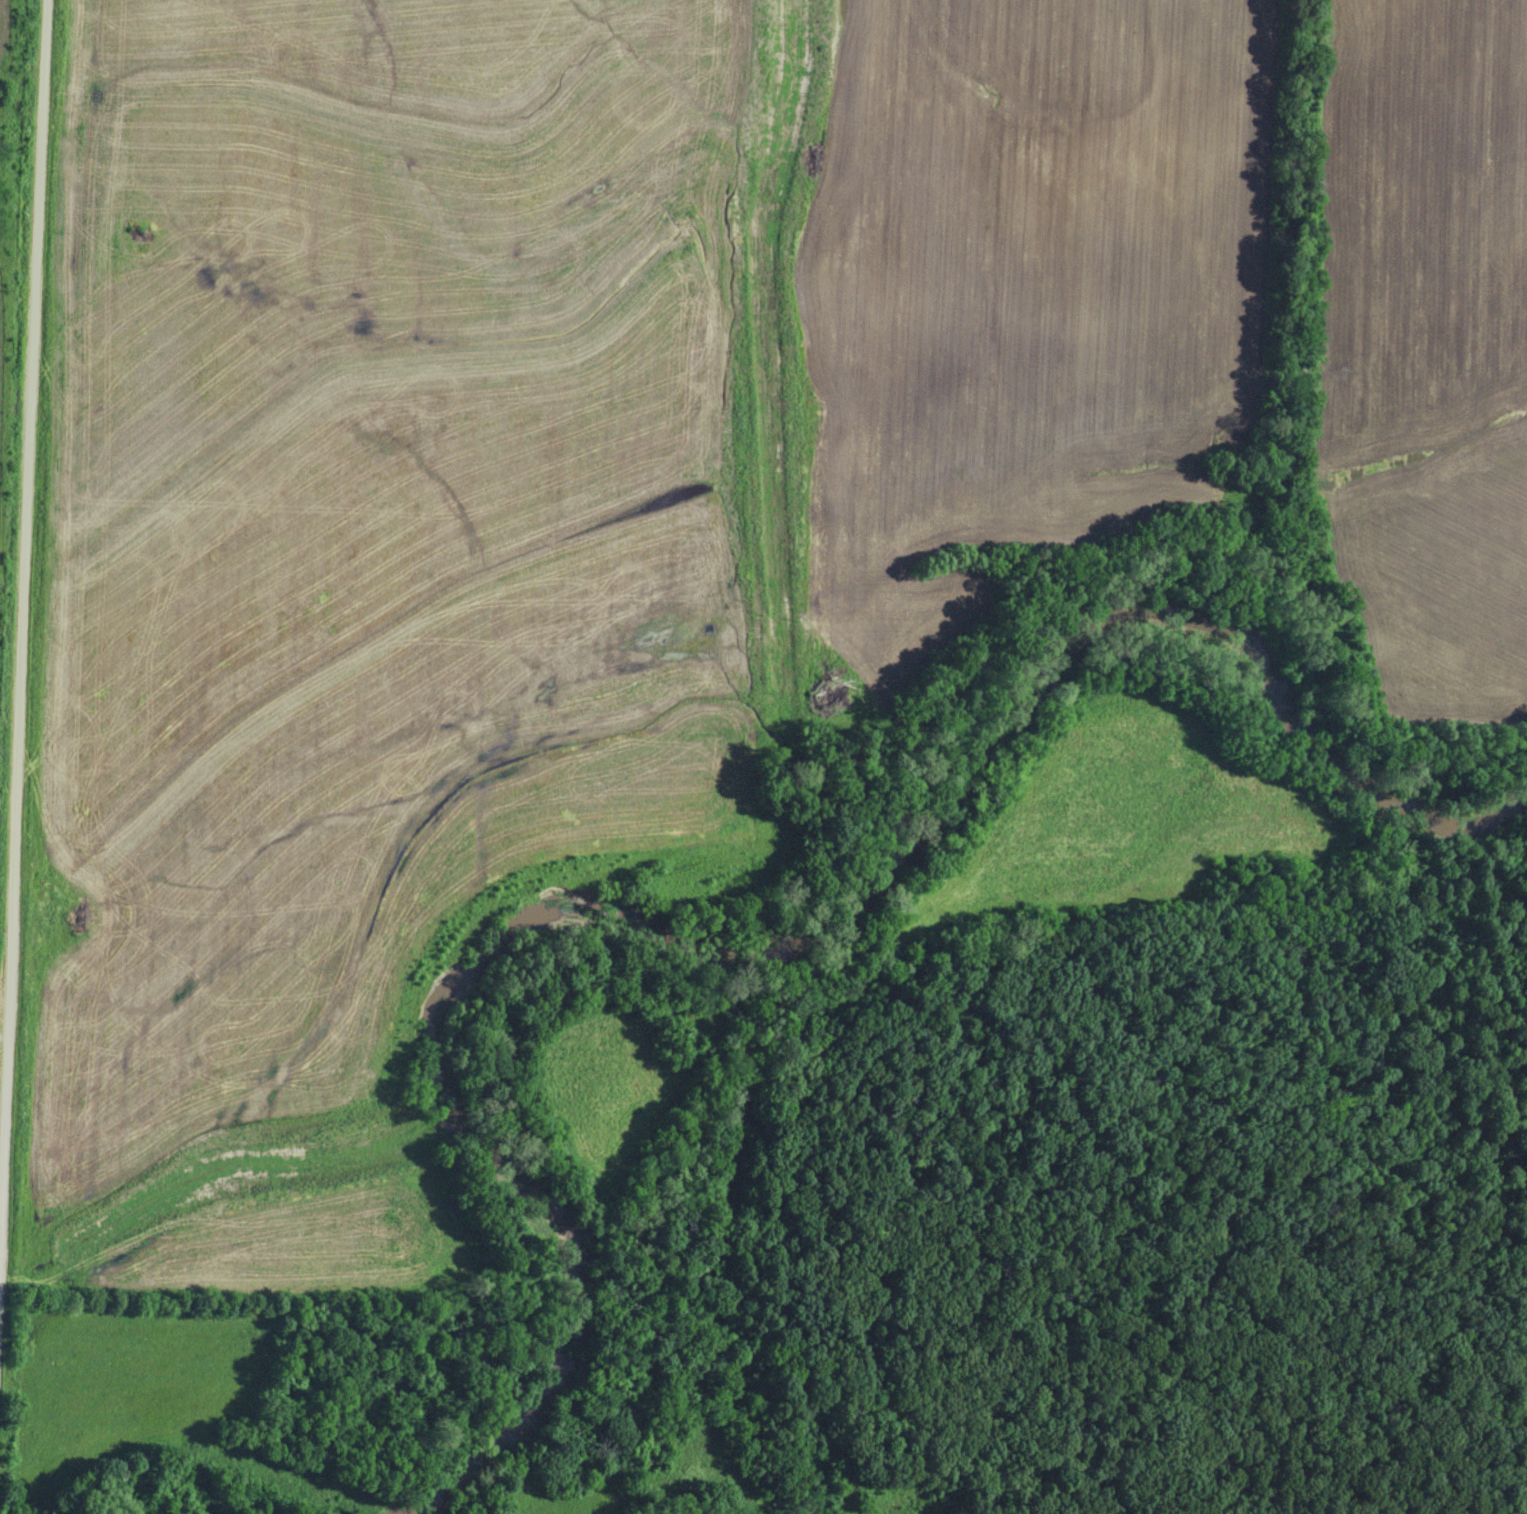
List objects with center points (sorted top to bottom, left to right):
road: (23, 676)

